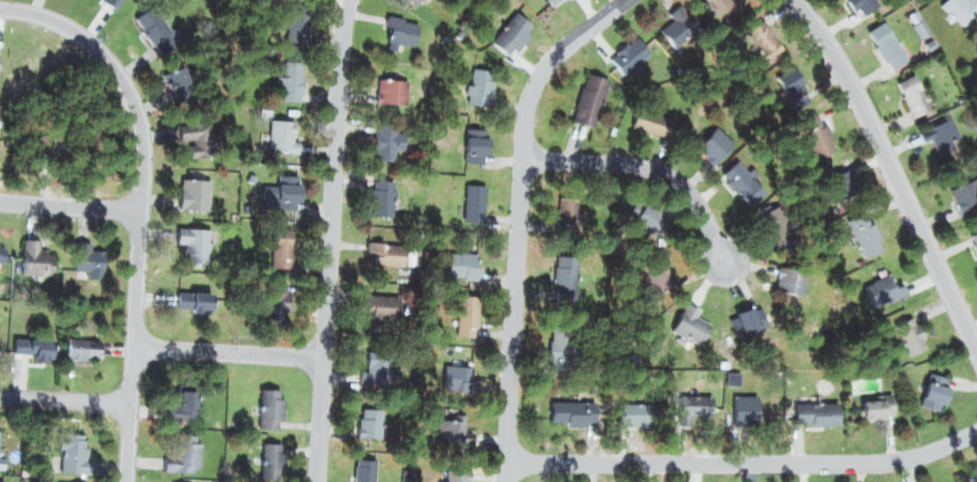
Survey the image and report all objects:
building: (715, 0)
building: (554, 1)
building: (110, 2)
building: (414, 2)
building: (859, 4)
building: (957, 7)
building: (668, 15)
building: (292, 20)
building: (399, 22)
building: (148, 25)
building: (679, 25)
building: (918, 28)
building: (509, 29)
building: (761, 30)
building: (632, 43)
building: (886, 46)
building: (630, 55)
building: (592, 77)
building: (795, 80)
building: (287, 81)
building: (175, 82)
building: (388, 83)
building: (476, 86)
building: (911, 95)
building: (585, 109)
building: (658, 109)
building: (654, 123)
building: (818, 126)
building: (948, 127)
building: (384, 131)
building: (712, 131)
building: (280, 136)
building: (191, 137)
building: (472, 142)
building: (715, 145)
road: (647, 167)
building: (740, 169)
road: (893, 169)
building: (837, 178)
building: (743, 184)
building: (968, 187)
building: (380, 188)
building: (191, 190)
building: (278, 193)
building: (470, 201)
road: (141, 202)
building: (567, 204)
road: (70, 210)
building: (649, 215)
road: (520, 219)
building: (773, 220)
building: (866, 229)
road: (331, 240)
building: (972, 240)
building: (191, 242)
building: (392, 243)
building: (280, 248)
building: (387, 254)
building: (2, 256)
building: (83, 256)
building: (33, 259)
building: (455, 259)
building: (656, 263)
building: (567, 269)
building: (790, 271)
building: (652, 278)
building: (880, 282)
building: (380, 290)
building: (269, 296)
building: (192, 300)
building: (383, 307)
building: (464, 311)
building: (692, 311)
building: (747, 313)
building: (691, 325)
building: (905, 332)
building: (563, 336)
building: (82, 346)
building: (31, 347)
building: (375, 350)
road: (230, 351)
building: (455, 364)
building: (375, 369)
building: (933, 385)
building: (570, 400)
building: (692, 400)
building: (877, 400)
building: (744, 401)
road: (65, 402)
building: (633, 403)
building: (816, 405)
building: (182, 407)
building: (268, 407)
building: (367, 413)
building: (573, 413)
building: (636, 415)
building: (450, 428)
building: (70, 451)
building: (185, 456)
building: (3, 461)
building: (271, 462)
road: (744, 464)
building: (364, 467)
building: (973, 469)
building: (455, 477)
building: (0, 481)

